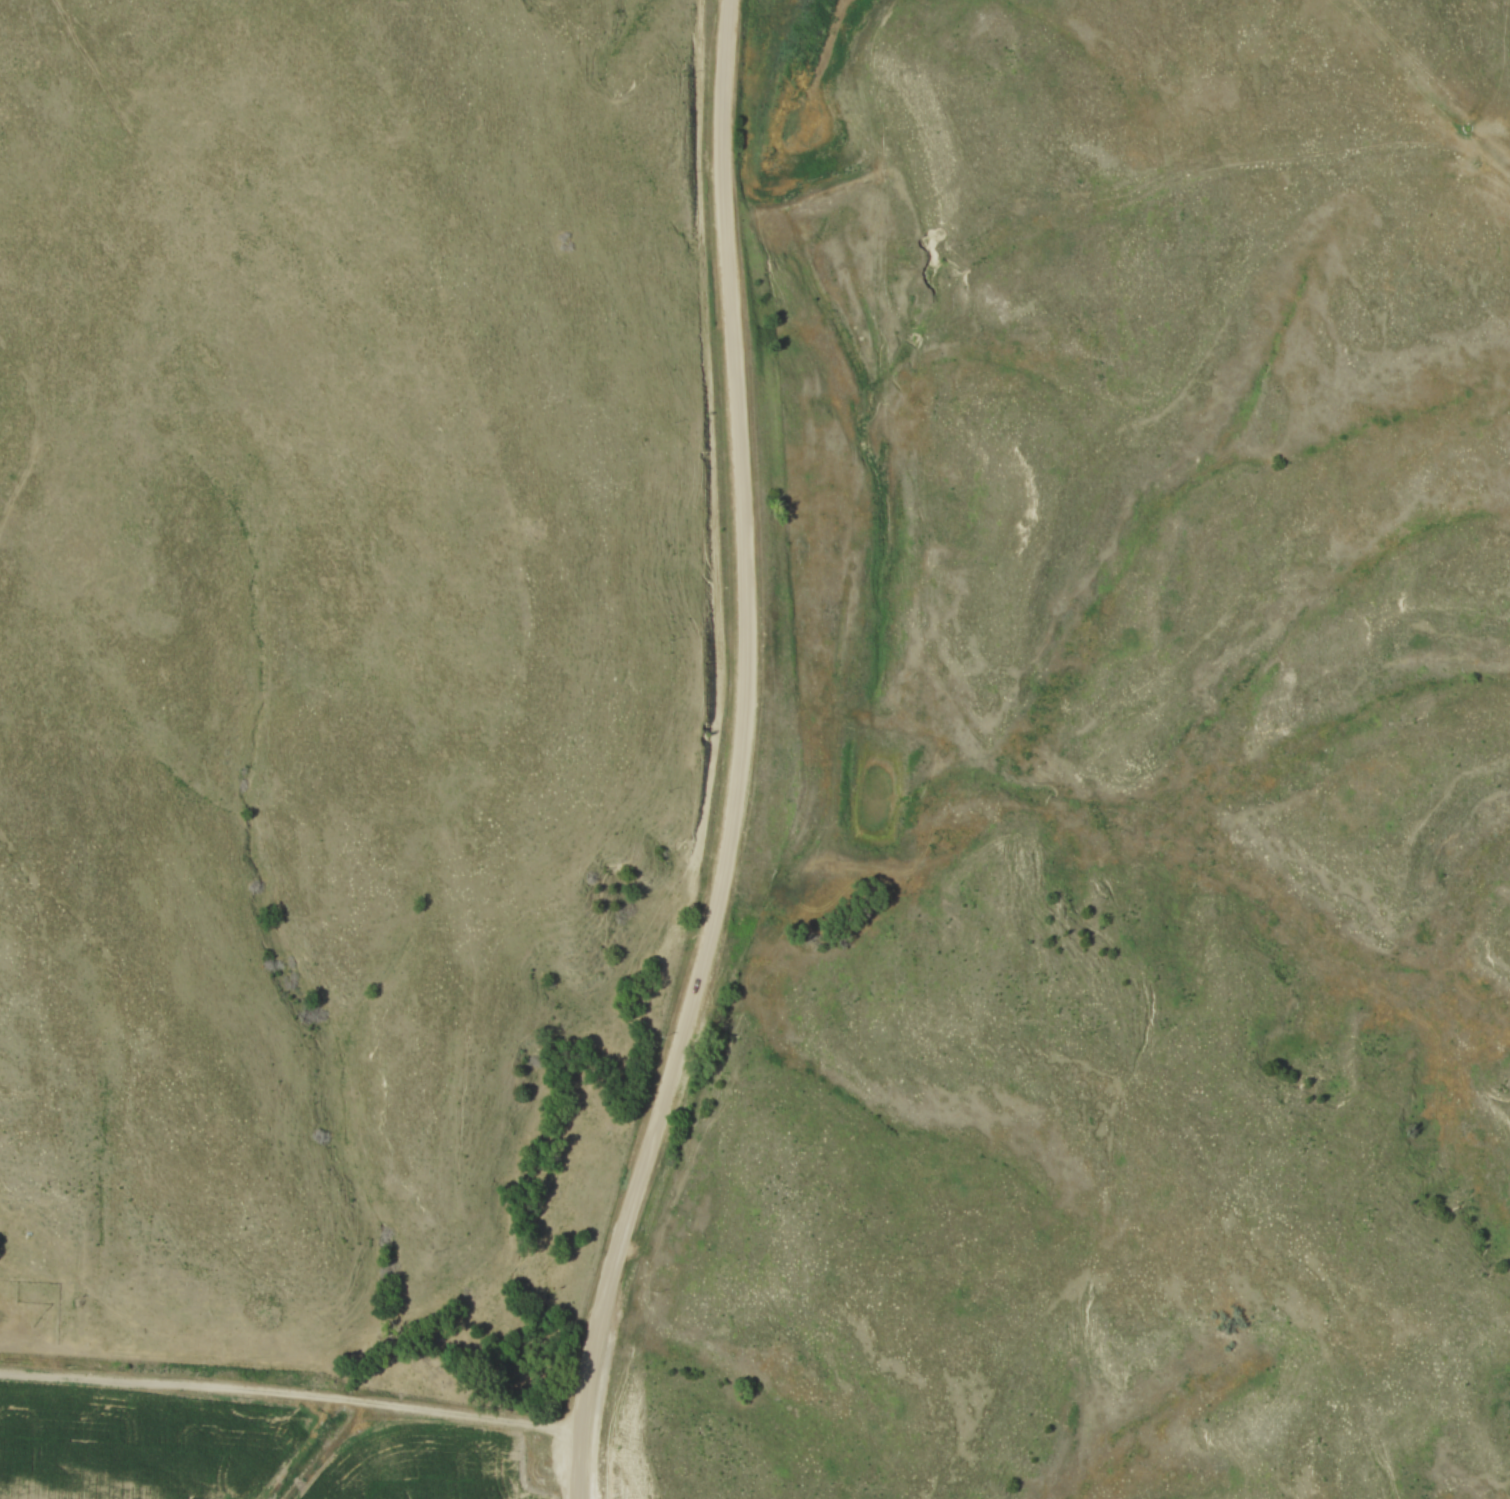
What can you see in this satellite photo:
road: (744, 759)
road: (291, 1390)
crop: (130, 1445)
crop: (427, 1465)

